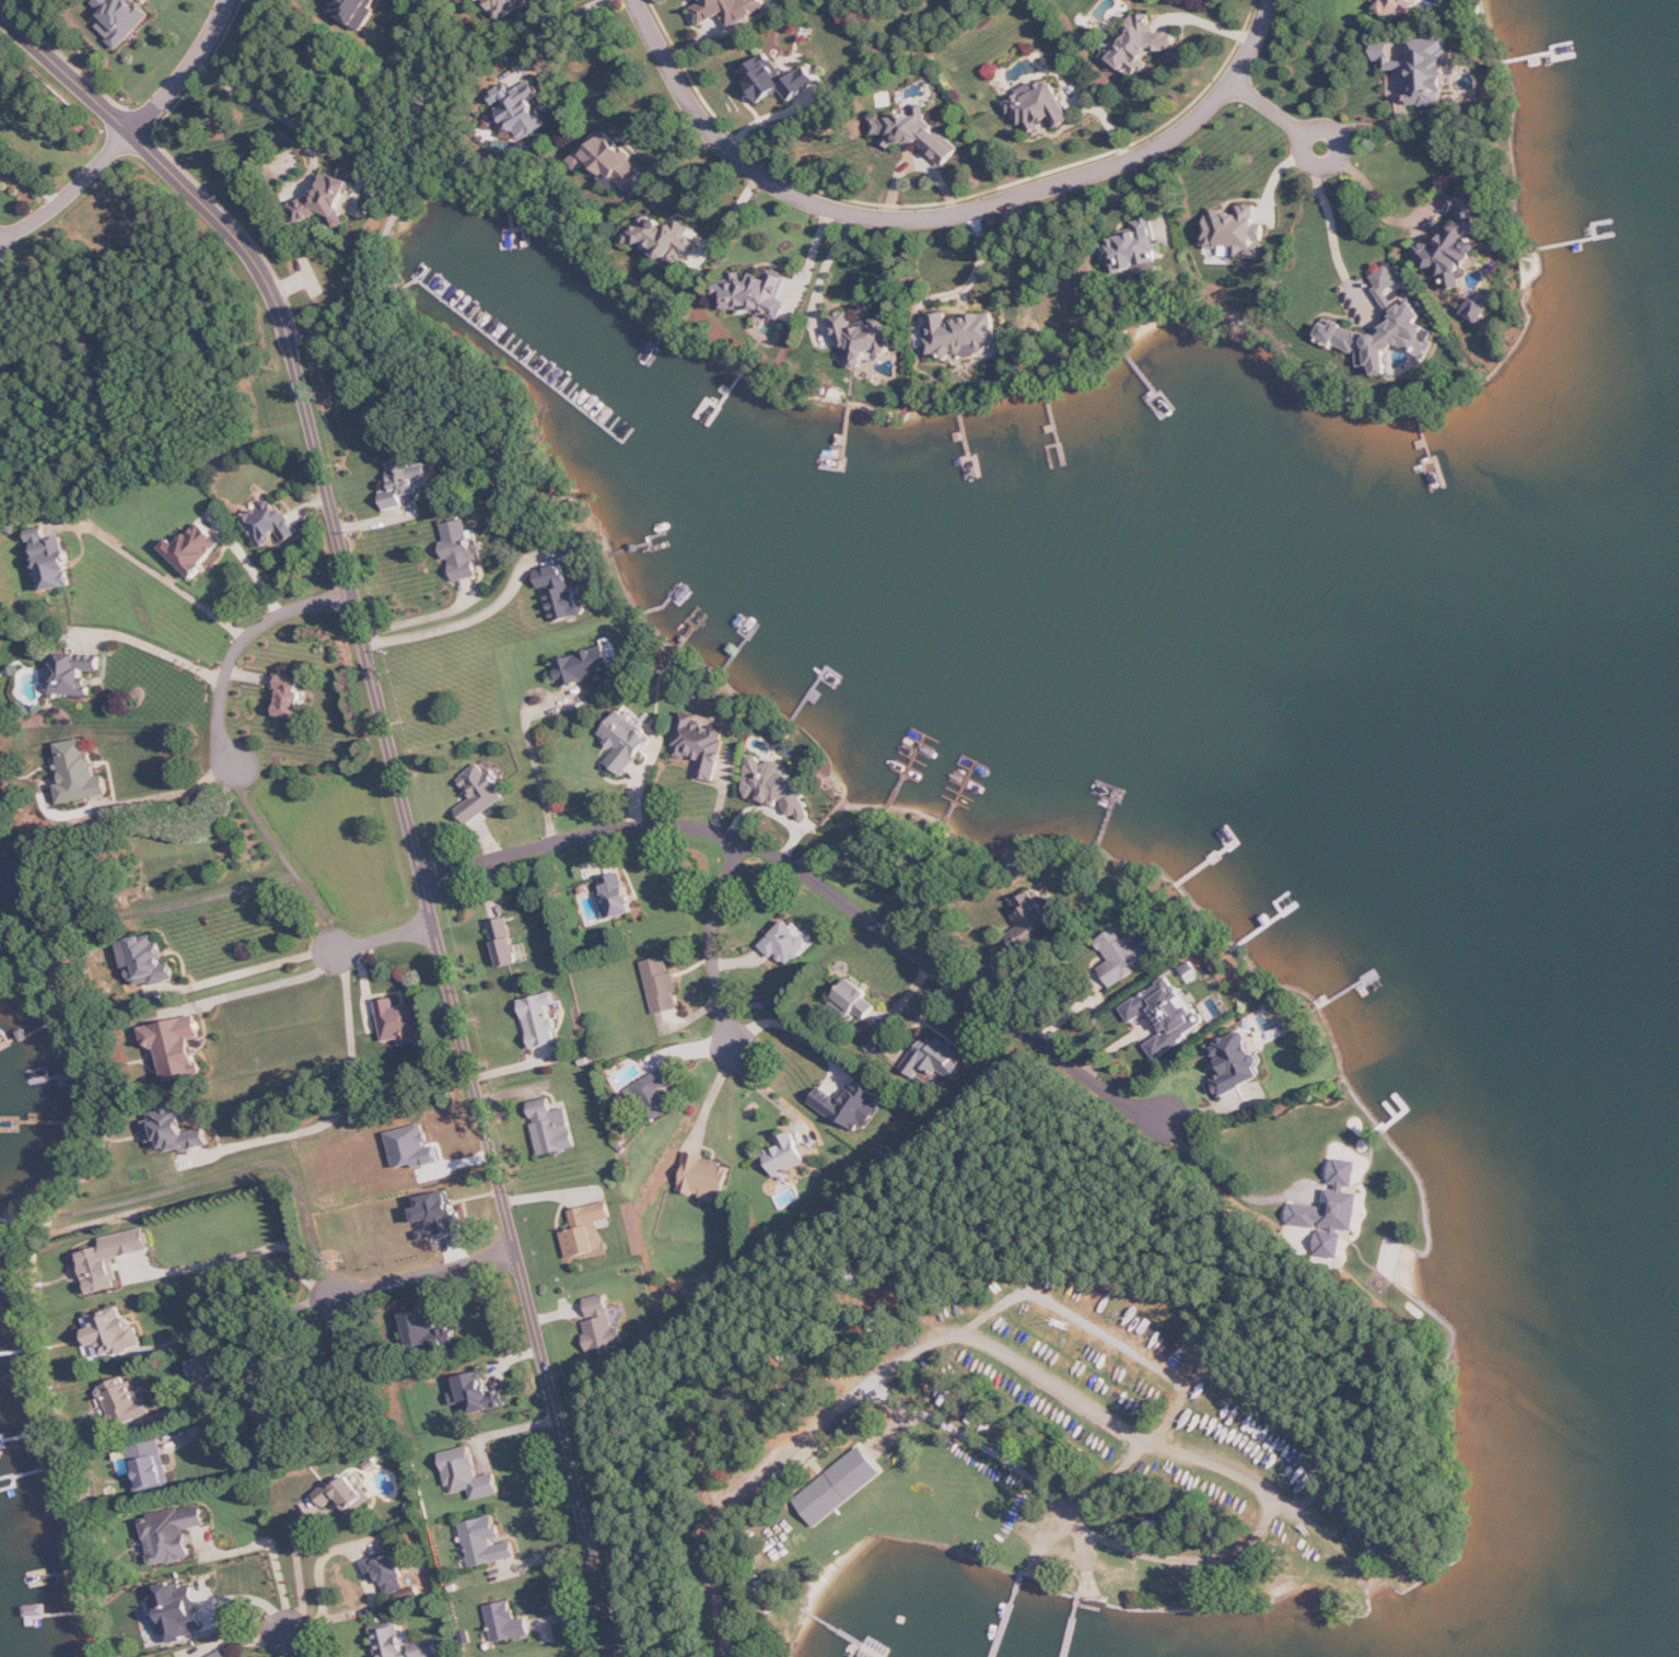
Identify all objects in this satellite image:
building: (504, 7)
building: (1399, 8)
building: (730, 10)
building: (357, 11)
building: (121, 19)
road: (556, 23)
building: (1140, 45)
building: (1425, 68)
road: (190, 72)
building: (776, 80)
building: (0, 83)
road: (270, 105)
building: (1039, 106)
road: (1270, 108)
building: (516, 113)
building: (918, 135)
road: (1307, 137)
building: (608, 161)
road: (31, 177)
road: (71, 196)
building: (328, 202)
road: (946, 215)
road: (1397, 221)
building: (1236, 232)
road: (1336, 235)
building: (663, 238)
building: (1456, 242)
building: (1134, 250)
road: (826, 268)
road: (976, 273)
building: (757, 294)
building: (1384, 329)
building: (961, 335)
building: (864, 337)
building: (409, 481)
building: (271, 524)
building: (195, 549)
building: (460, 550)
building: (53, 560)
road: (255, 569)
road: (161, 573)
building: (561, 594)
road: (416, 619)
road: (466, 621)
road: (240, 645)
road: (167, 653)
building: (590, 666)
building: (72, 673)
building: (293, 698)
building: (626, 743)
building: (701, 747)
road: (526, 756)
building: (80, 773)
road: (400, 782)
building: (776, 784)
building: (481, 792)
road: (171, 794)
road: (168, 817)
road: (287, 860)
building: (21, 871)
road: (820, 886)
building: (618, 895)
road: (219, 896)
building: (1033, 917)
road: (383, 938)
building: (504, 942)
road: (712, 942)
building: (788, 943)
building: (1122, 955)
building: (148, 961)
road: (258, 968)
building: (662, 985)
road: (268, 989)
building: (855, 1000)
building: (1167, 1015)
building: (540, 1020)
building: (400, 1022)
road: (786, 1025)
building: (176, 1047)
building: (934, 1060)
building: (1236, 1063)
road: (770, 1094)
building: (652, 1096)
road: (347, 1106)
building: (851, 1107)
building: (552, 1128)
building: (175, 1131)
building: (412, 1148)
building: (786, 1155)
road: (1220, 1176)
building: (706, 1178)
building: (1330, 1214)
building: (439, 1215)
building: (587, 1230)
road: (253, 1253)
building: (110, 1259)
road: (424, 1273)
road: (244, 1310)
building: (602, 1325)
building: (110, 1335)
road: (1118, 1343)
road: (269, 1354)
road: (1007, 1355)
road: (348, 1366)
building: (203, 1367)
building: (480, 1395)
road: (855, 1396)
road: (888, 1397)
building: (125, 1403)
road: (1298, 1424)
road: (896, 1430)
building: (273, 1434)
road: (1141, 1449)
road: (995, 1451)
building: (152, 1469)
building: (854, 1469)
building: (468, 1474)
building: (345, 1495)
building: (821, 1496)
road: (730, 1507)
flagpole: (874, 1525)
road: (1081, 1525)
building: (172, 1535)
road: (1259, 1537)
road: (1332, 1541)
building: (487, 1543)
road: (275, 1555)
road: (1086, 1562)
building: (386, 1571)
road: (364, 1572)
road: (302, 1583)
building: (178, 1611)
pier: (1007, 1615)
building: (506, 1623)
pier: (900, 1623)
pier: (1074, 1623)
pier: (855, 1640)
building: (400, 1643)
road: (303, 1645)
building: (221, 1655)

